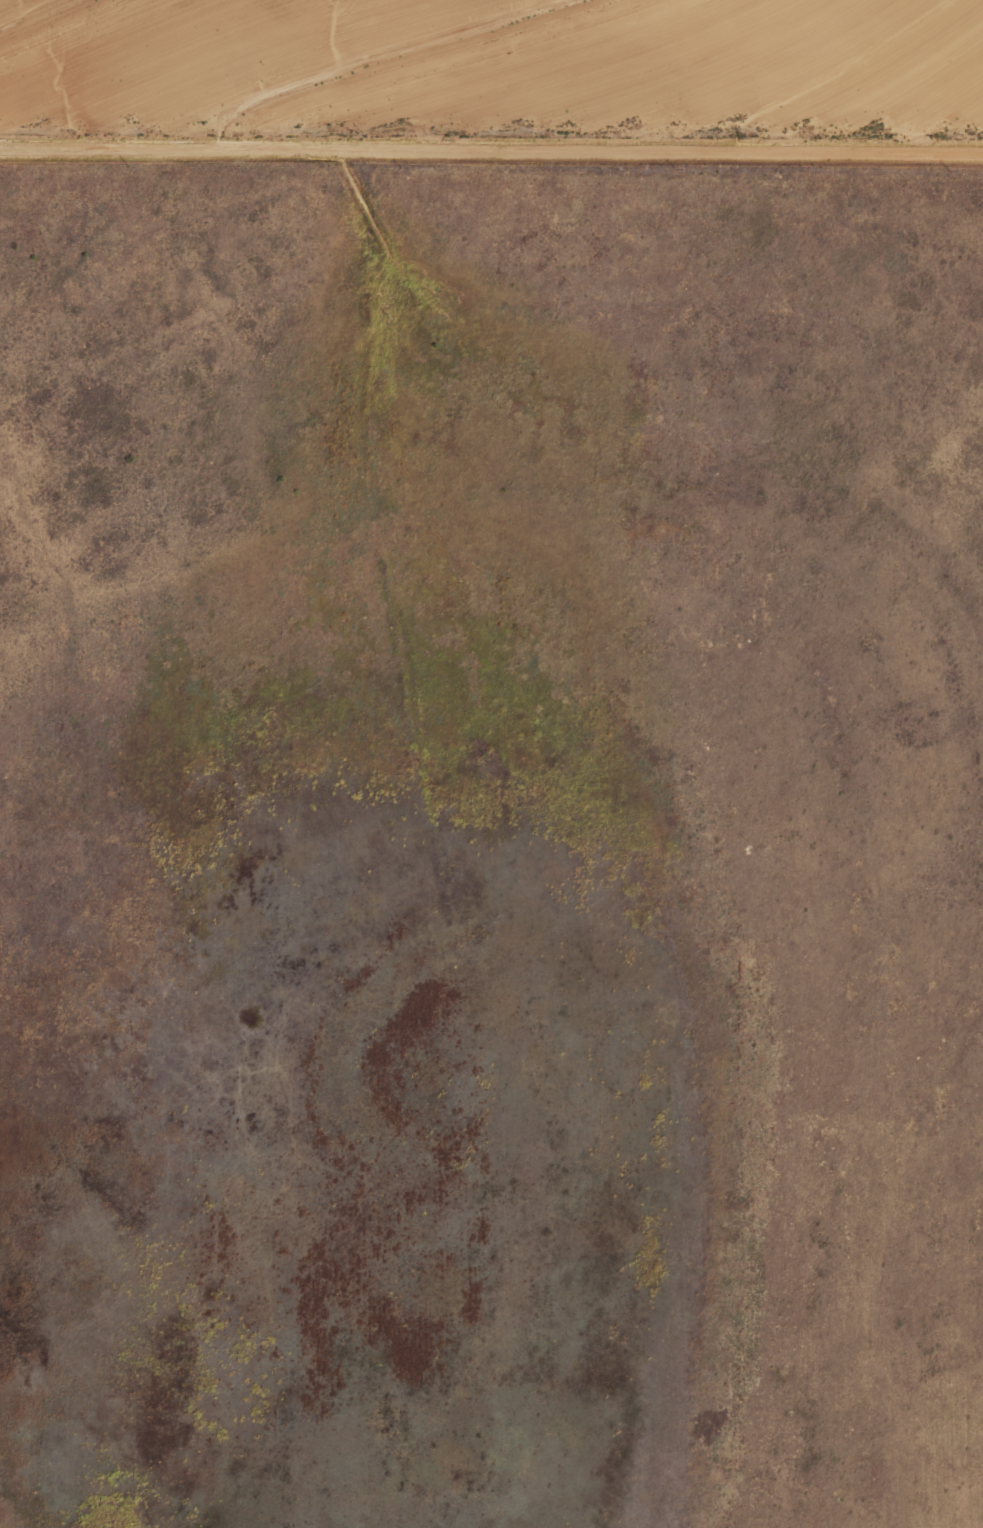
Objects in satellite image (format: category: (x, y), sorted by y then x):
road: (491, 152)

